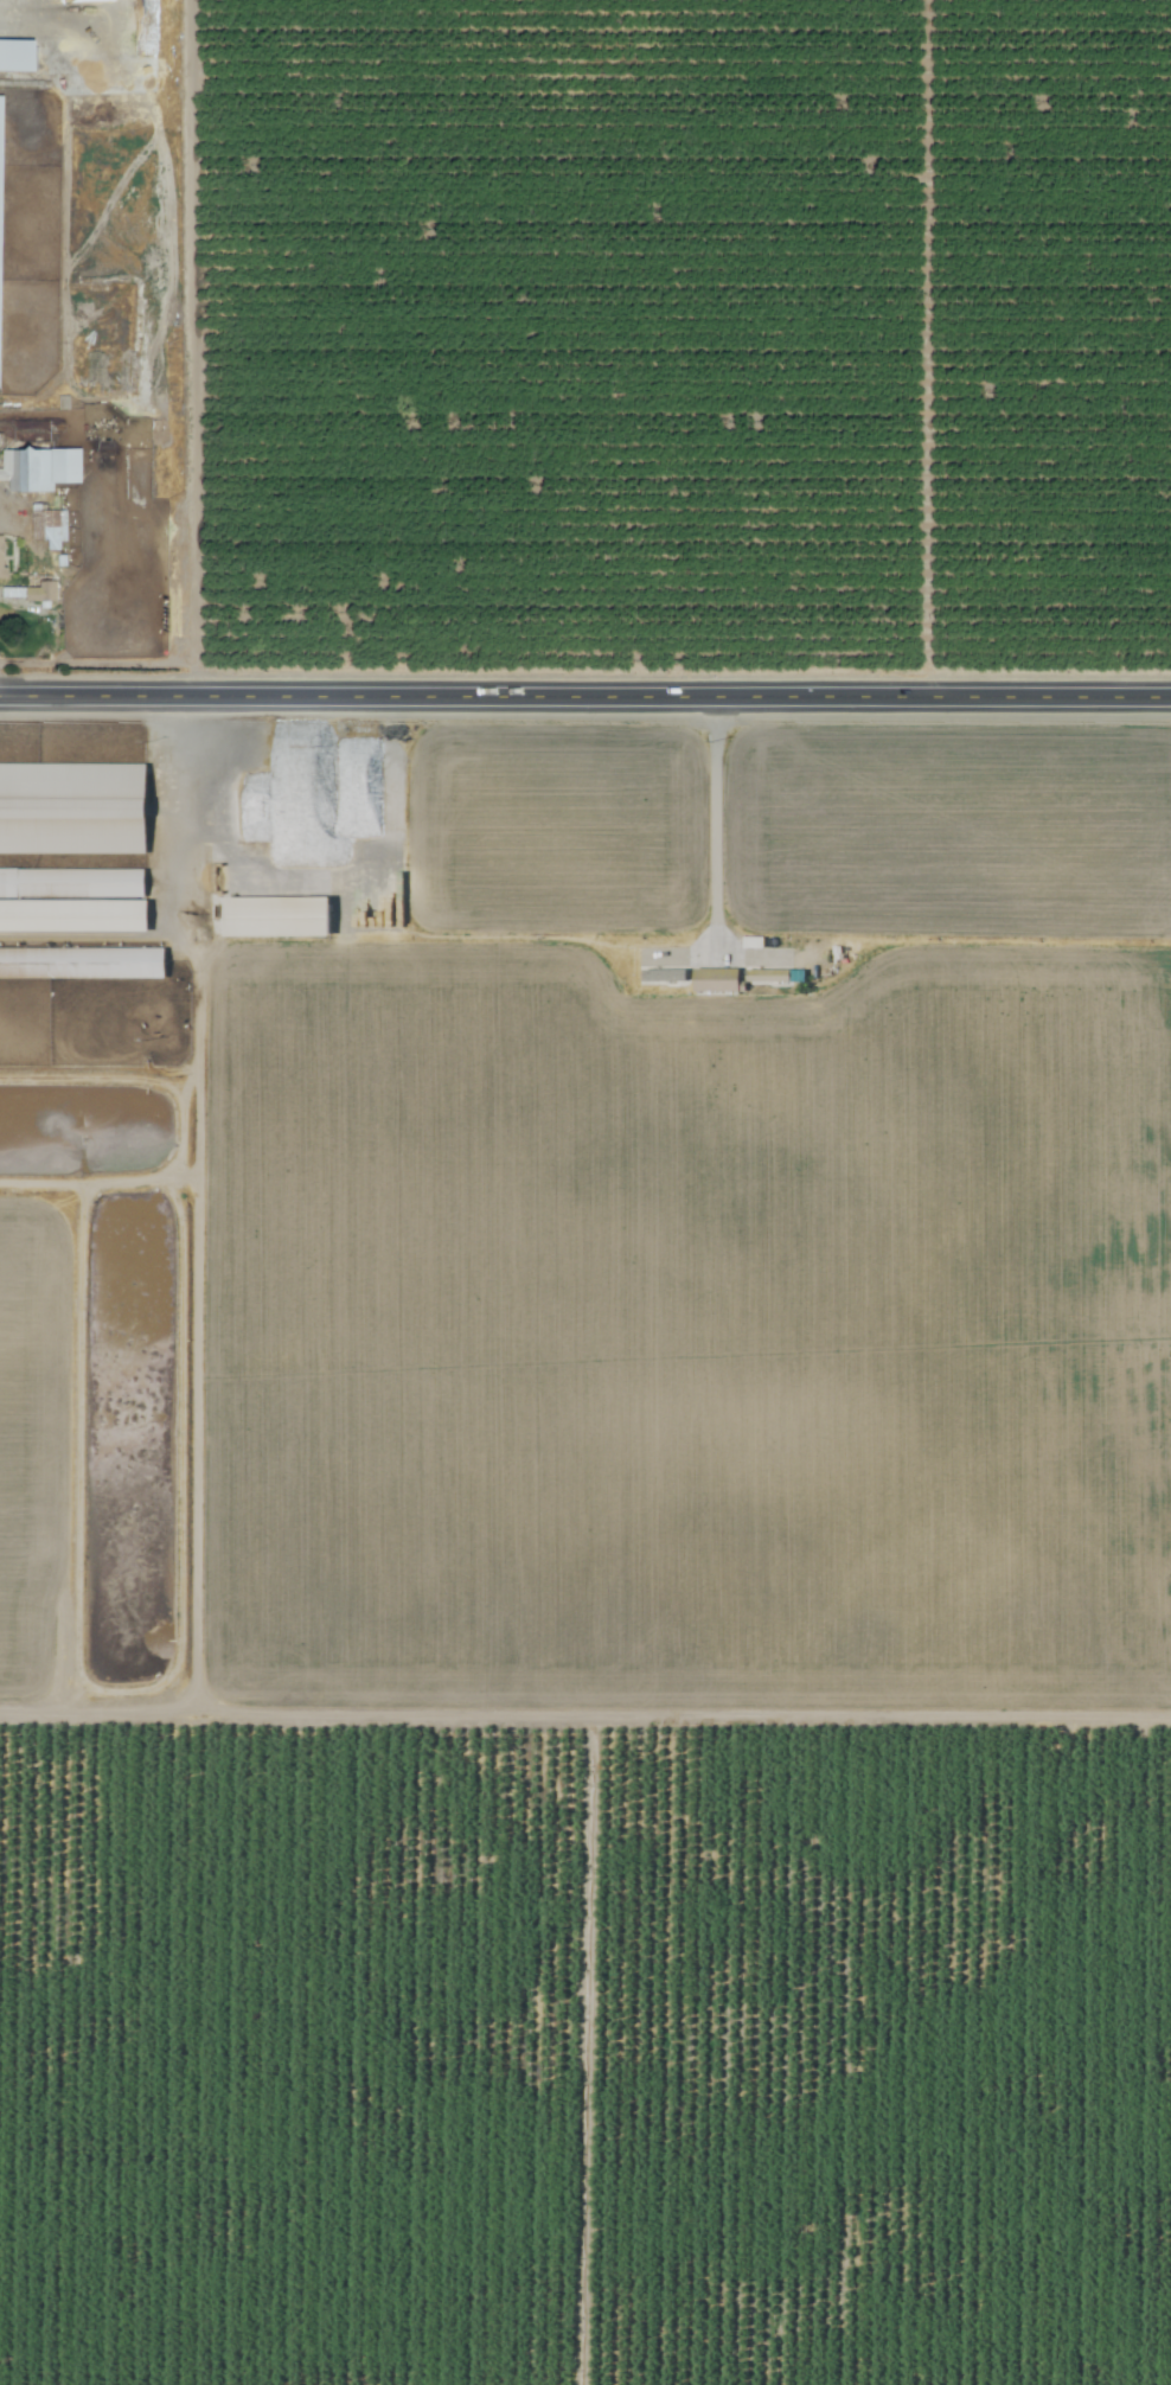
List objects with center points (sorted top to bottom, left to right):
building: (94, 17)
building: (17, 58)
building: (0, 180)
building: (111, 376)
building: (40, 472)
building: (50, 531)
building: (2, 558)
building: (44, 595)
road: (584, 693)
building: (71, 810)
road: (162, 811)
road: (716, 818)
building: (71, 884)
building: (373, 890)
building: (71, 916)
building: (273, 919)
building: (81, 964)
building: (661, 977)
building: (764, 977)
building: (714, 980)

